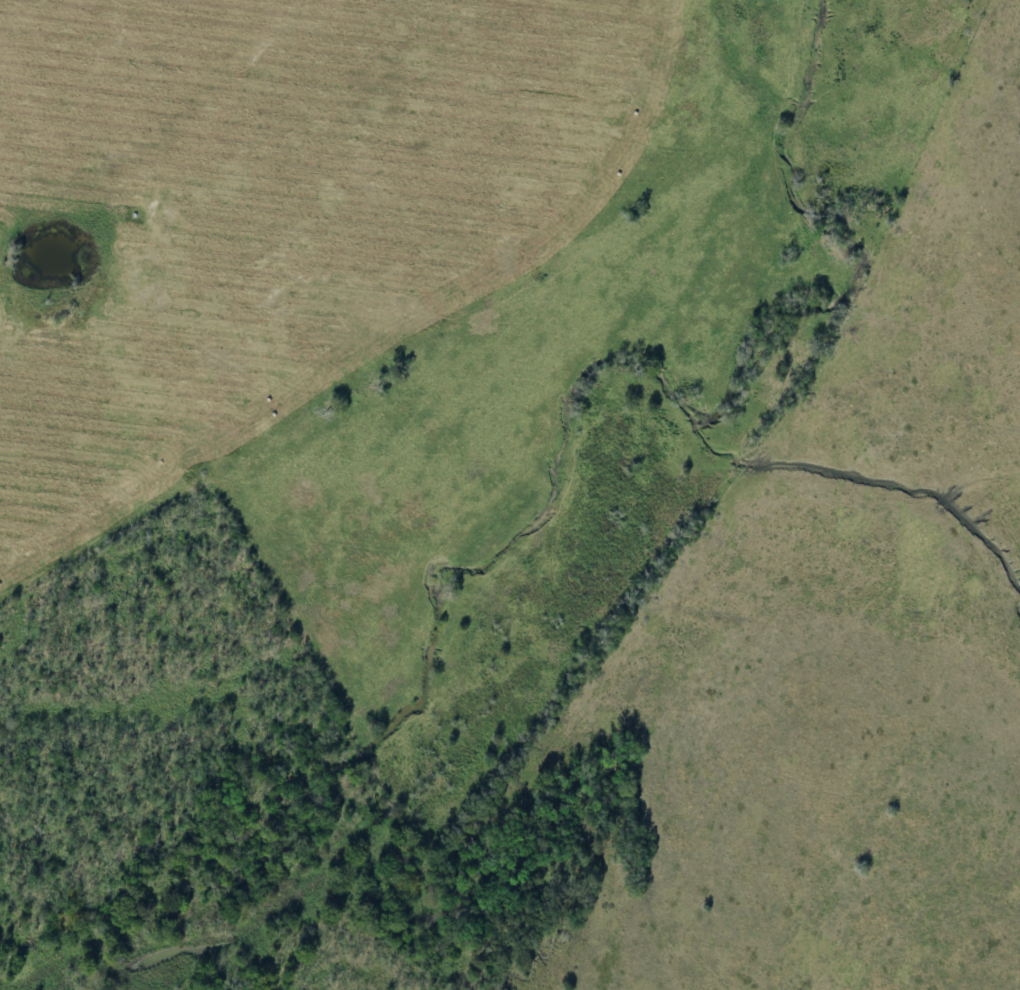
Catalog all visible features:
road: (15, 325)

